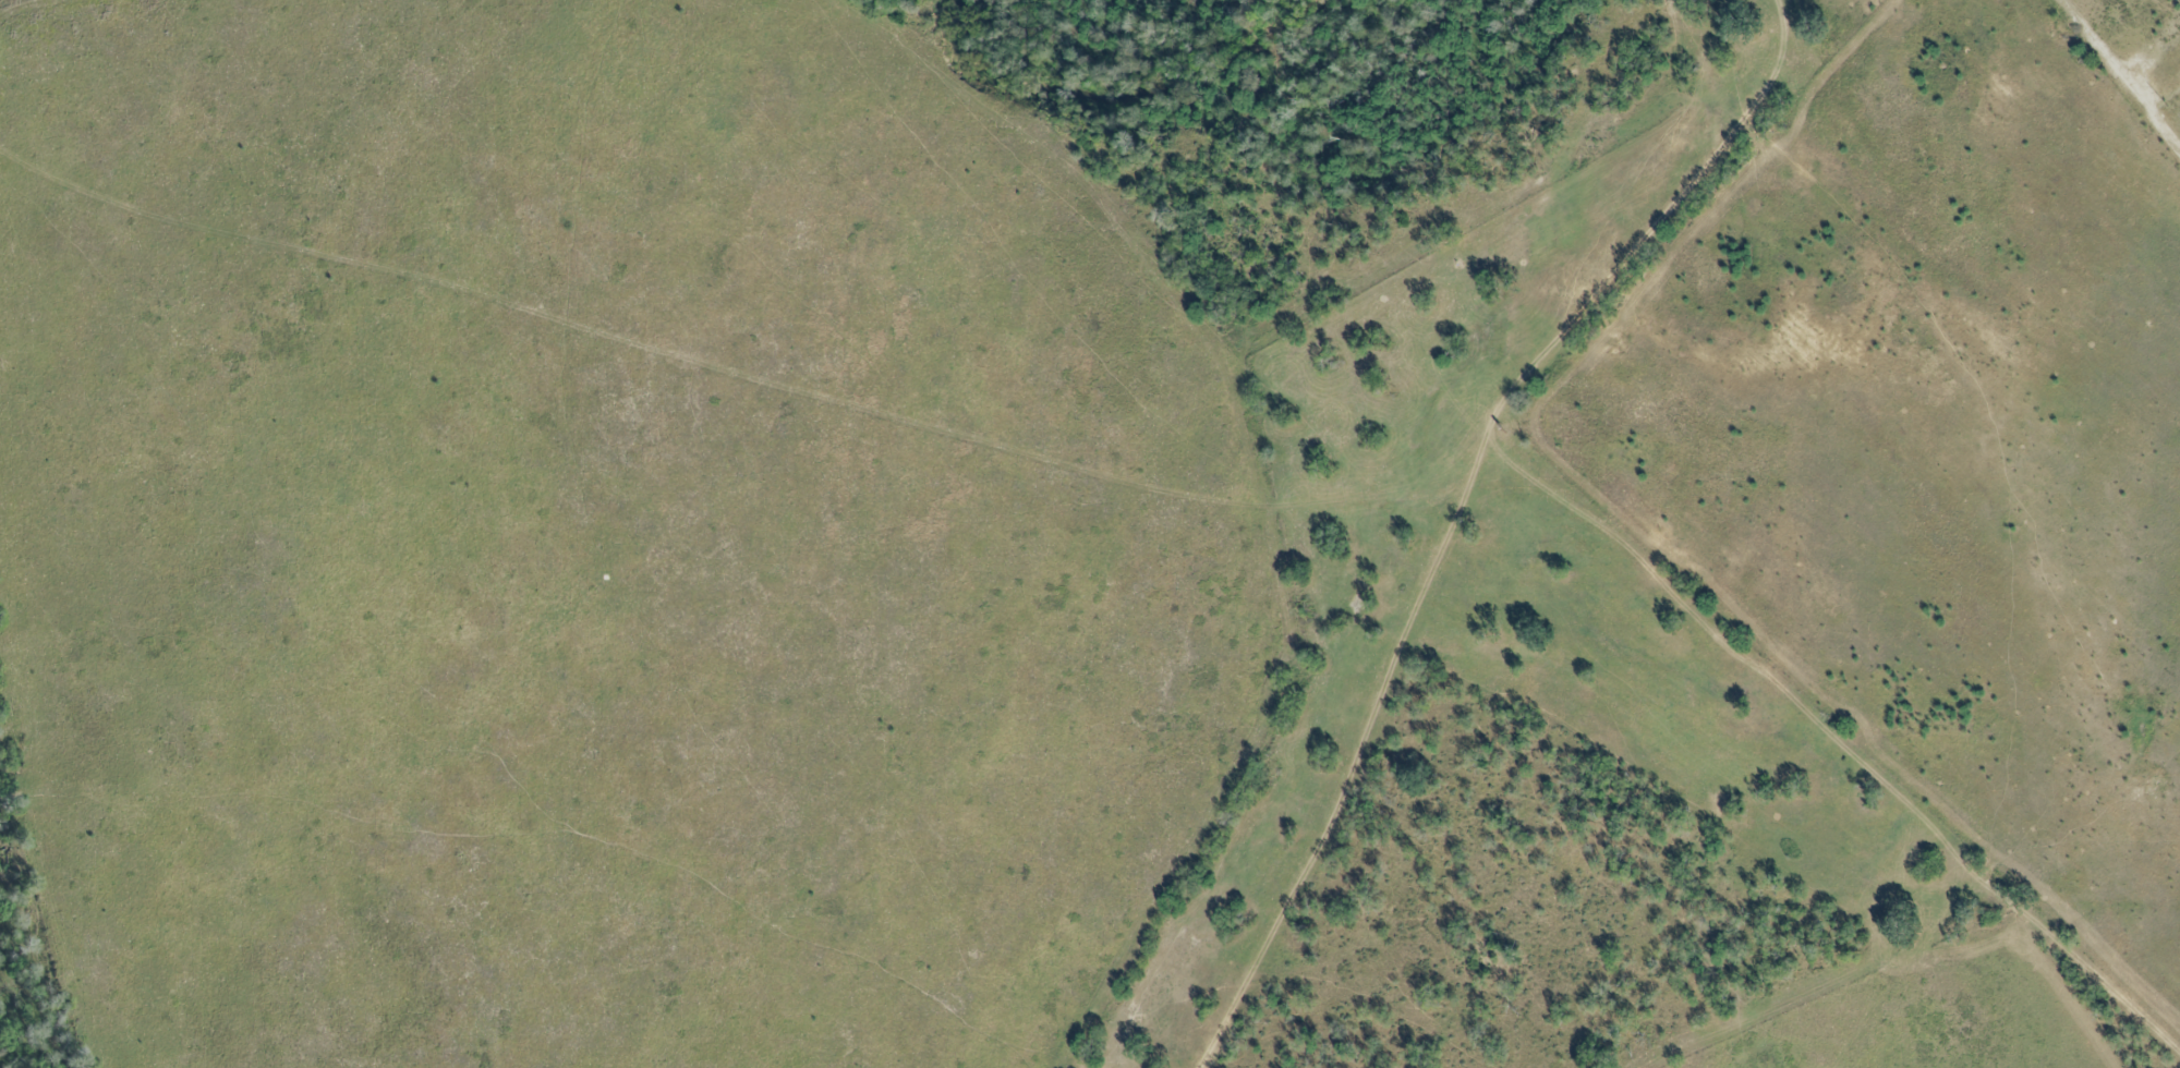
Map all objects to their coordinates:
river: (1303, 26)
river: (1091, 102)

